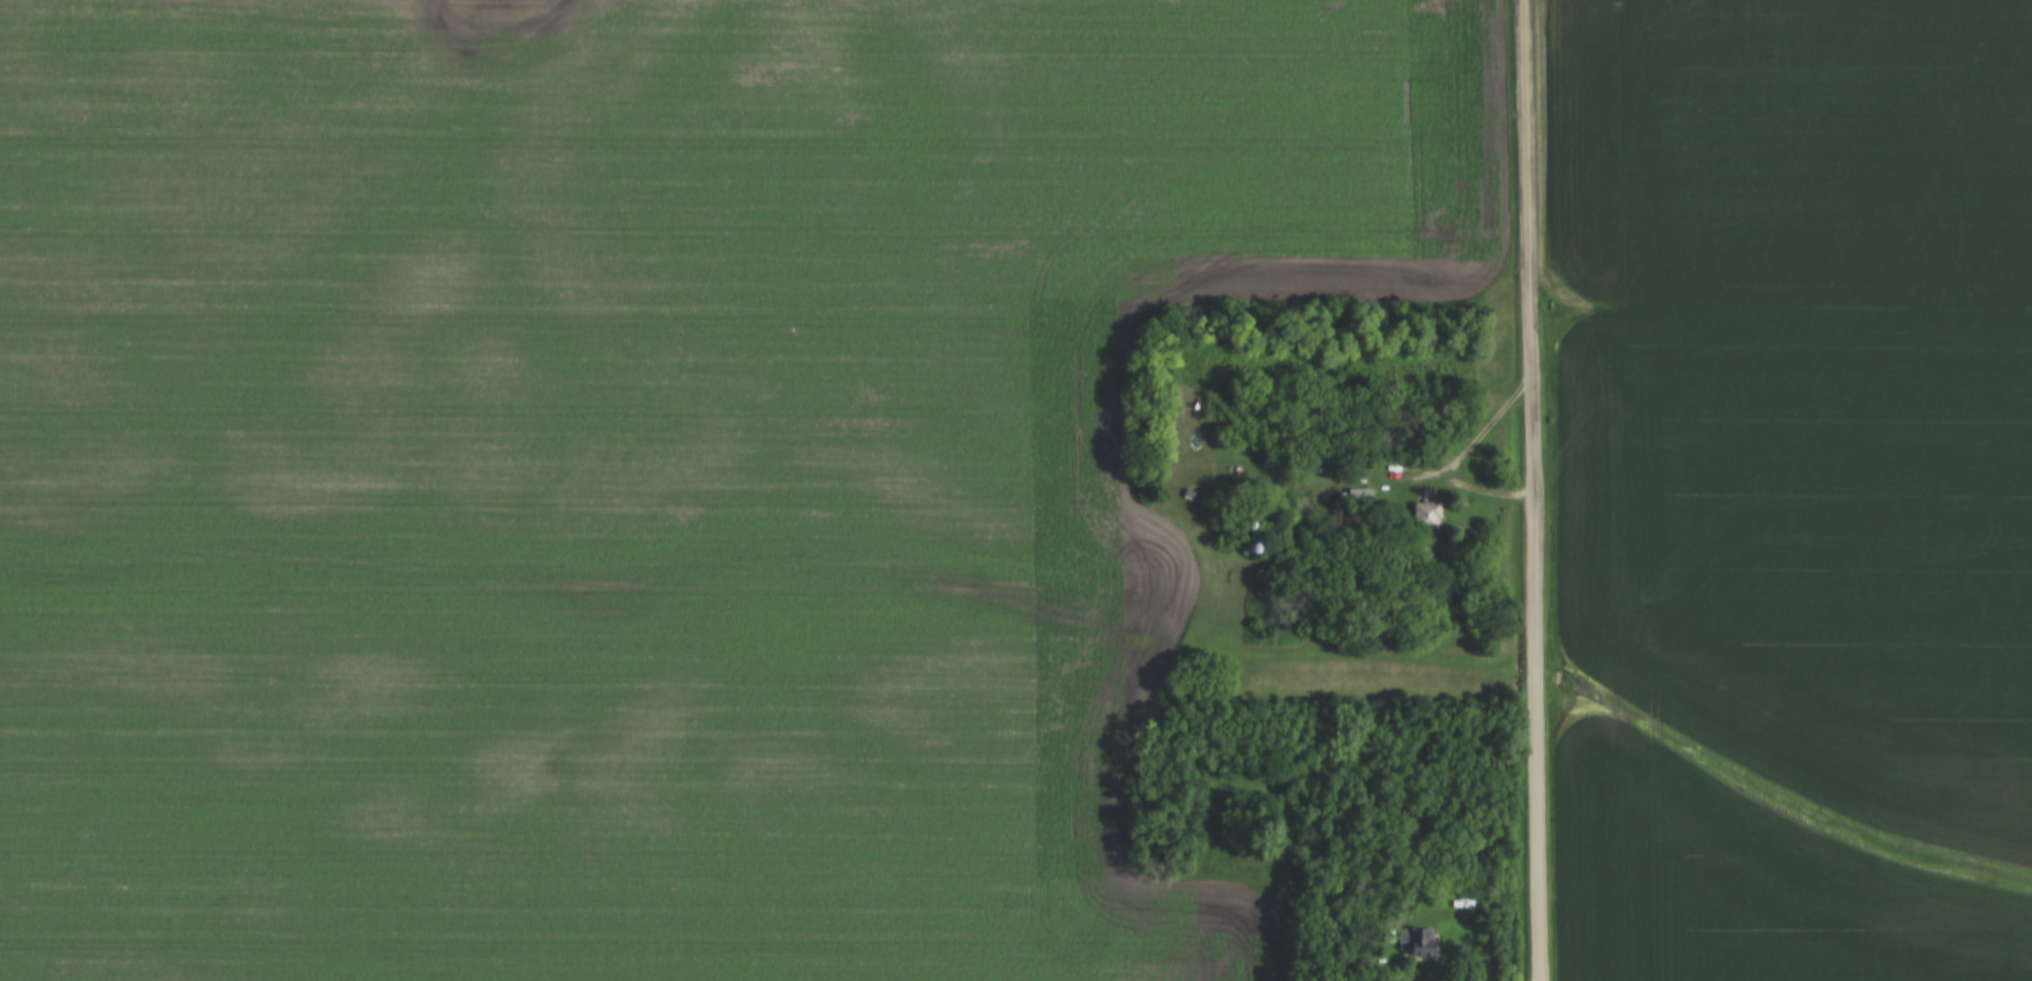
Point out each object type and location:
road: (1437, 472)
road: (1531, 490)

